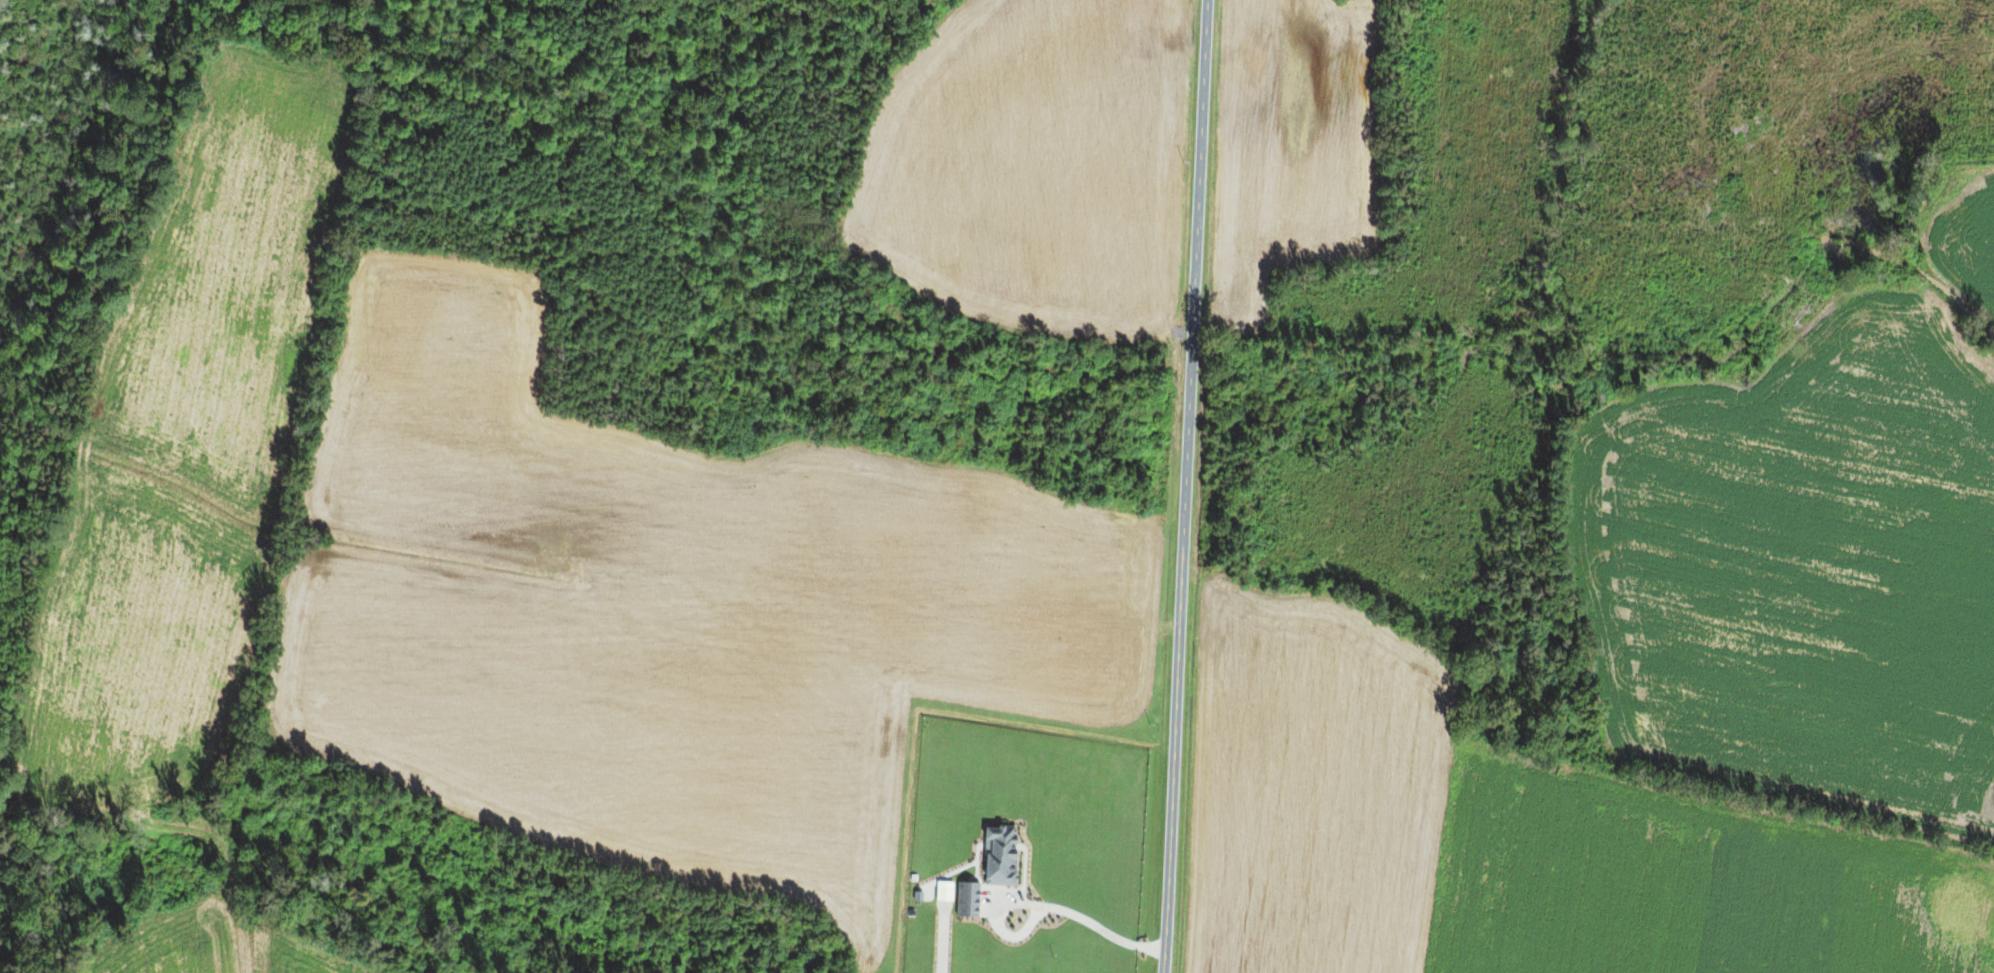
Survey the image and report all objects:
road: (1184, 486)
building: (997, 855)
building: (965, 899)

